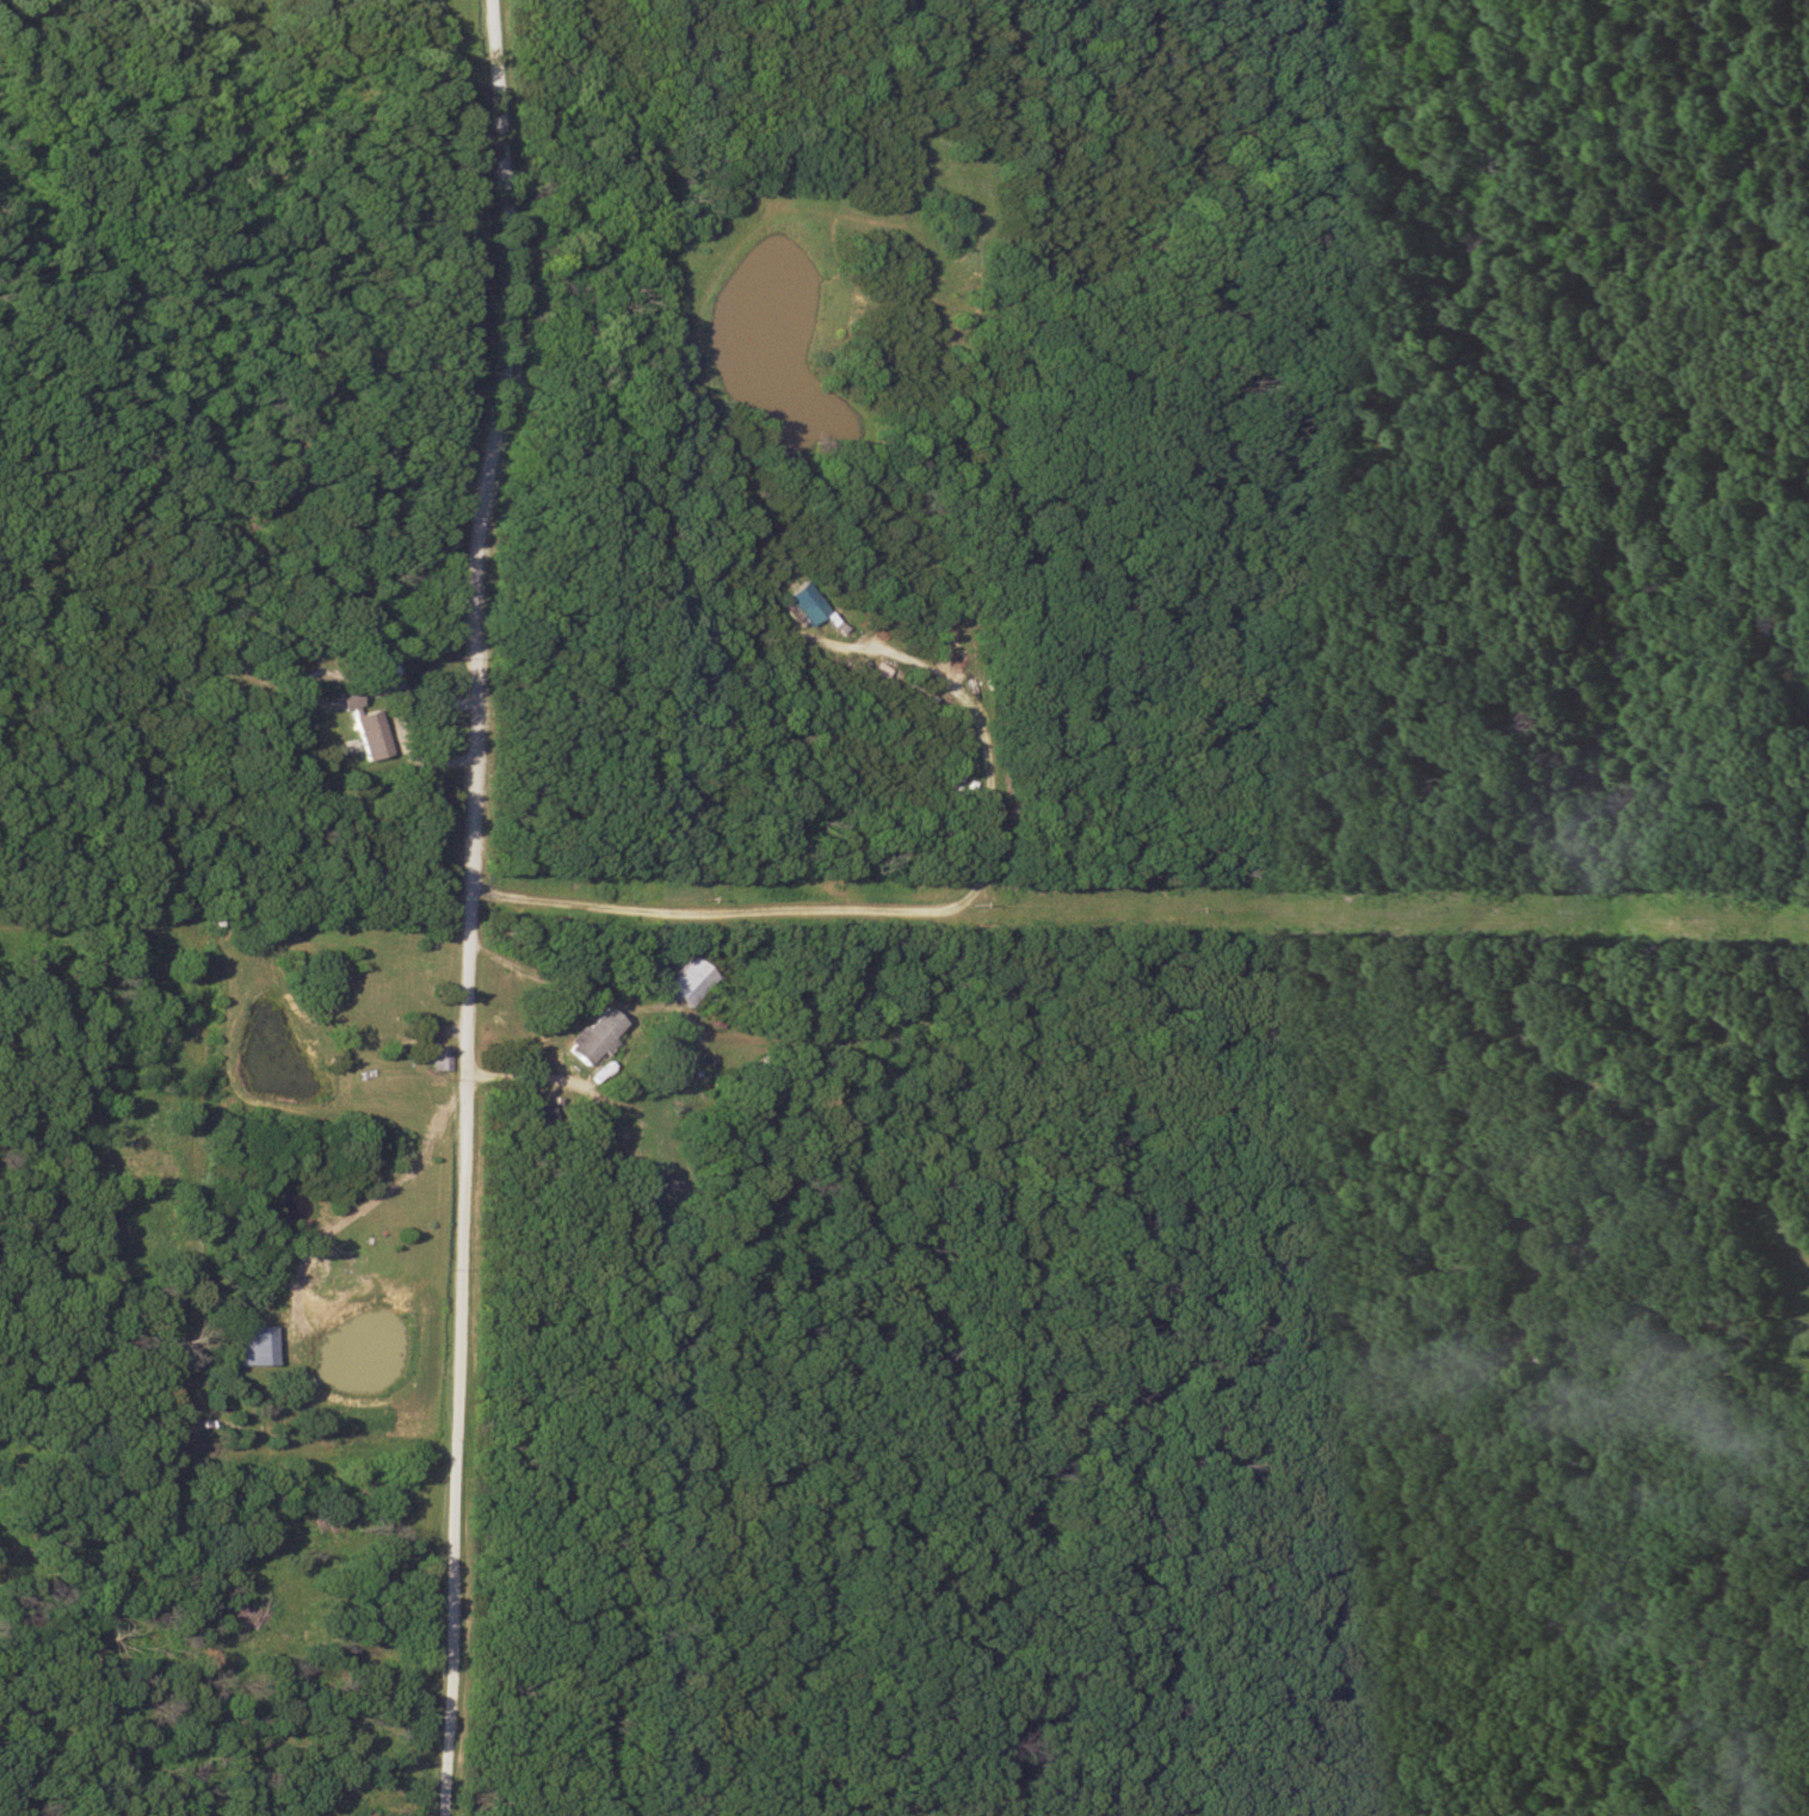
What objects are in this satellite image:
building: (803, 604)
building: (344, 699)
building: (365, 734)
road: (469, 906)
building: (686, 981)
building: (385, 1005)
building: (589, 1036)
building: (439, 1058)
building: (536, 1112)
building: (251, 1346)

